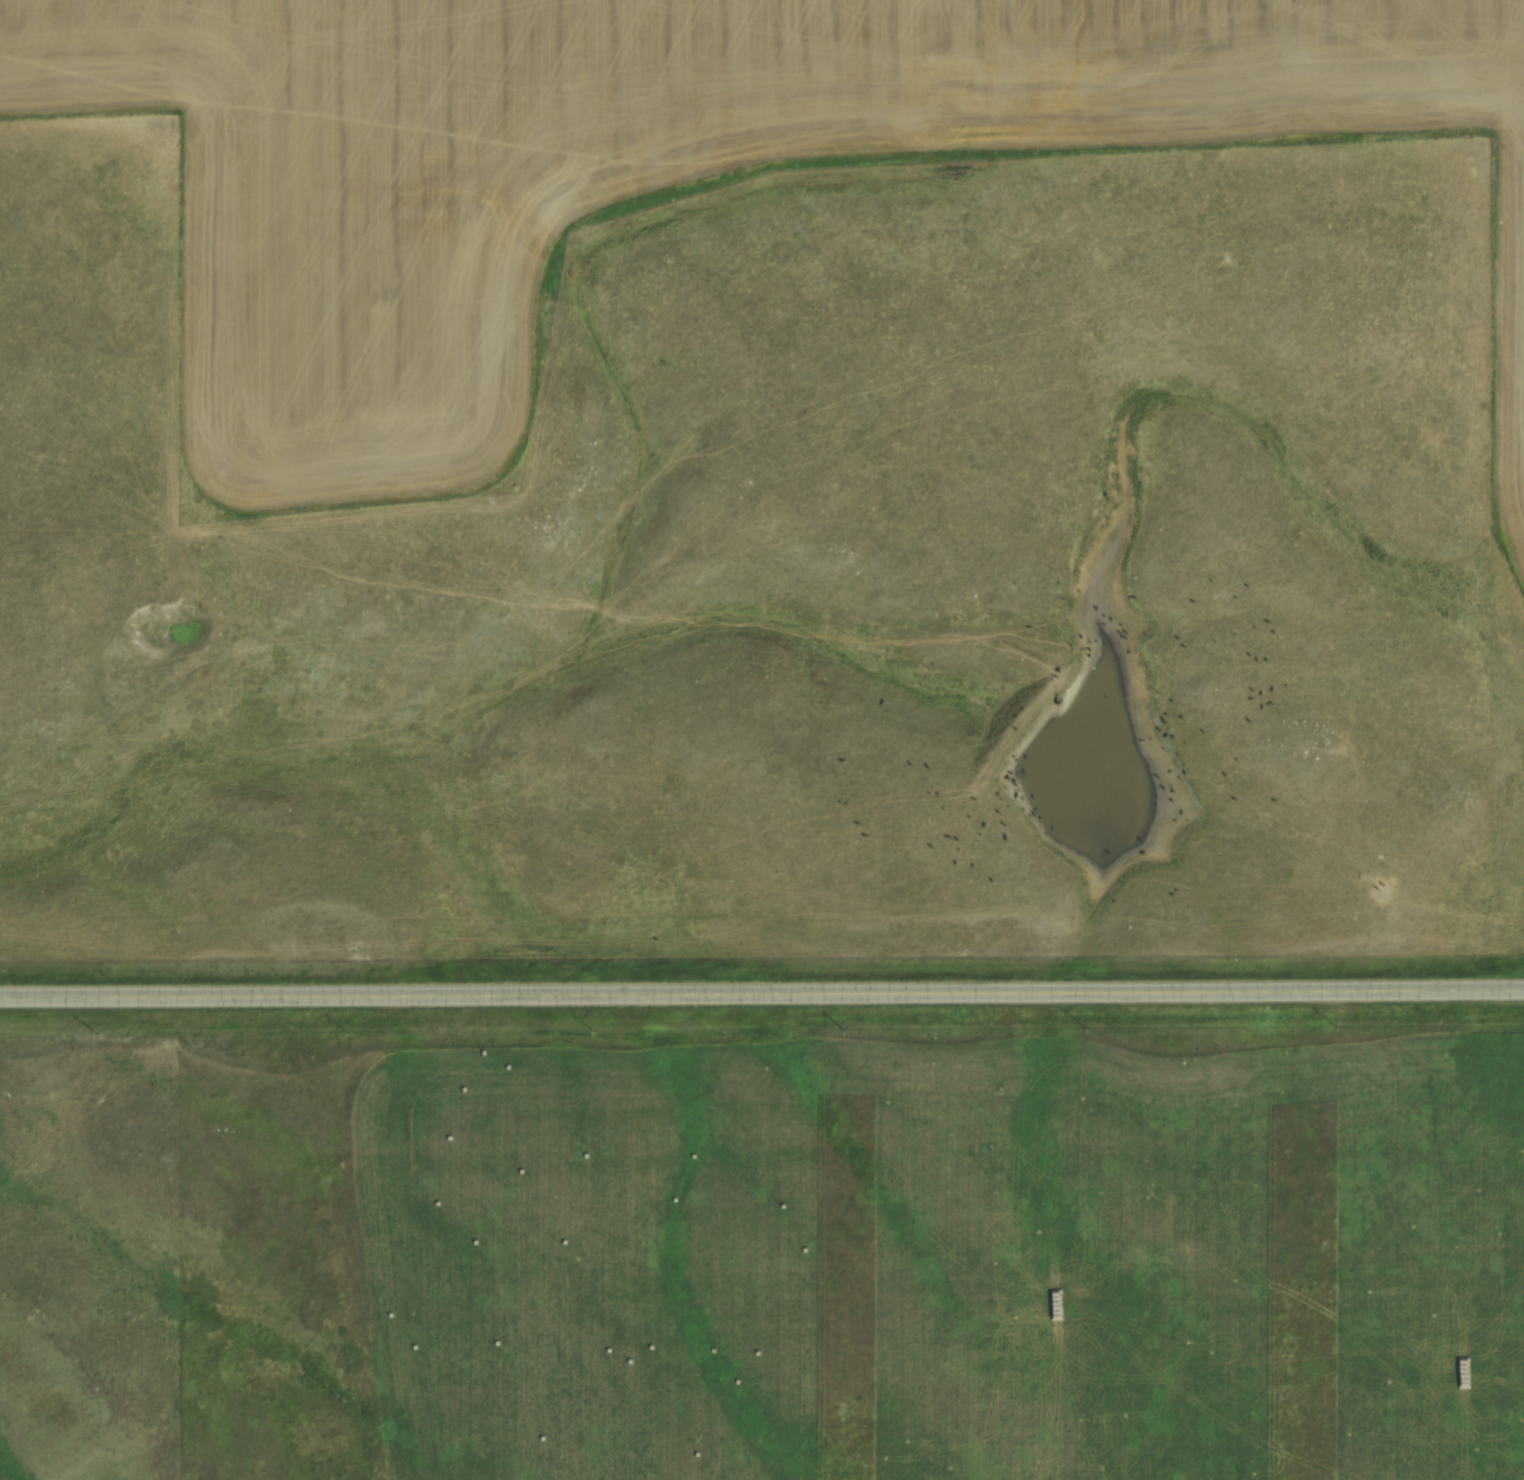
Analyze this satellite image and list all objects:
road: (762, 989)

